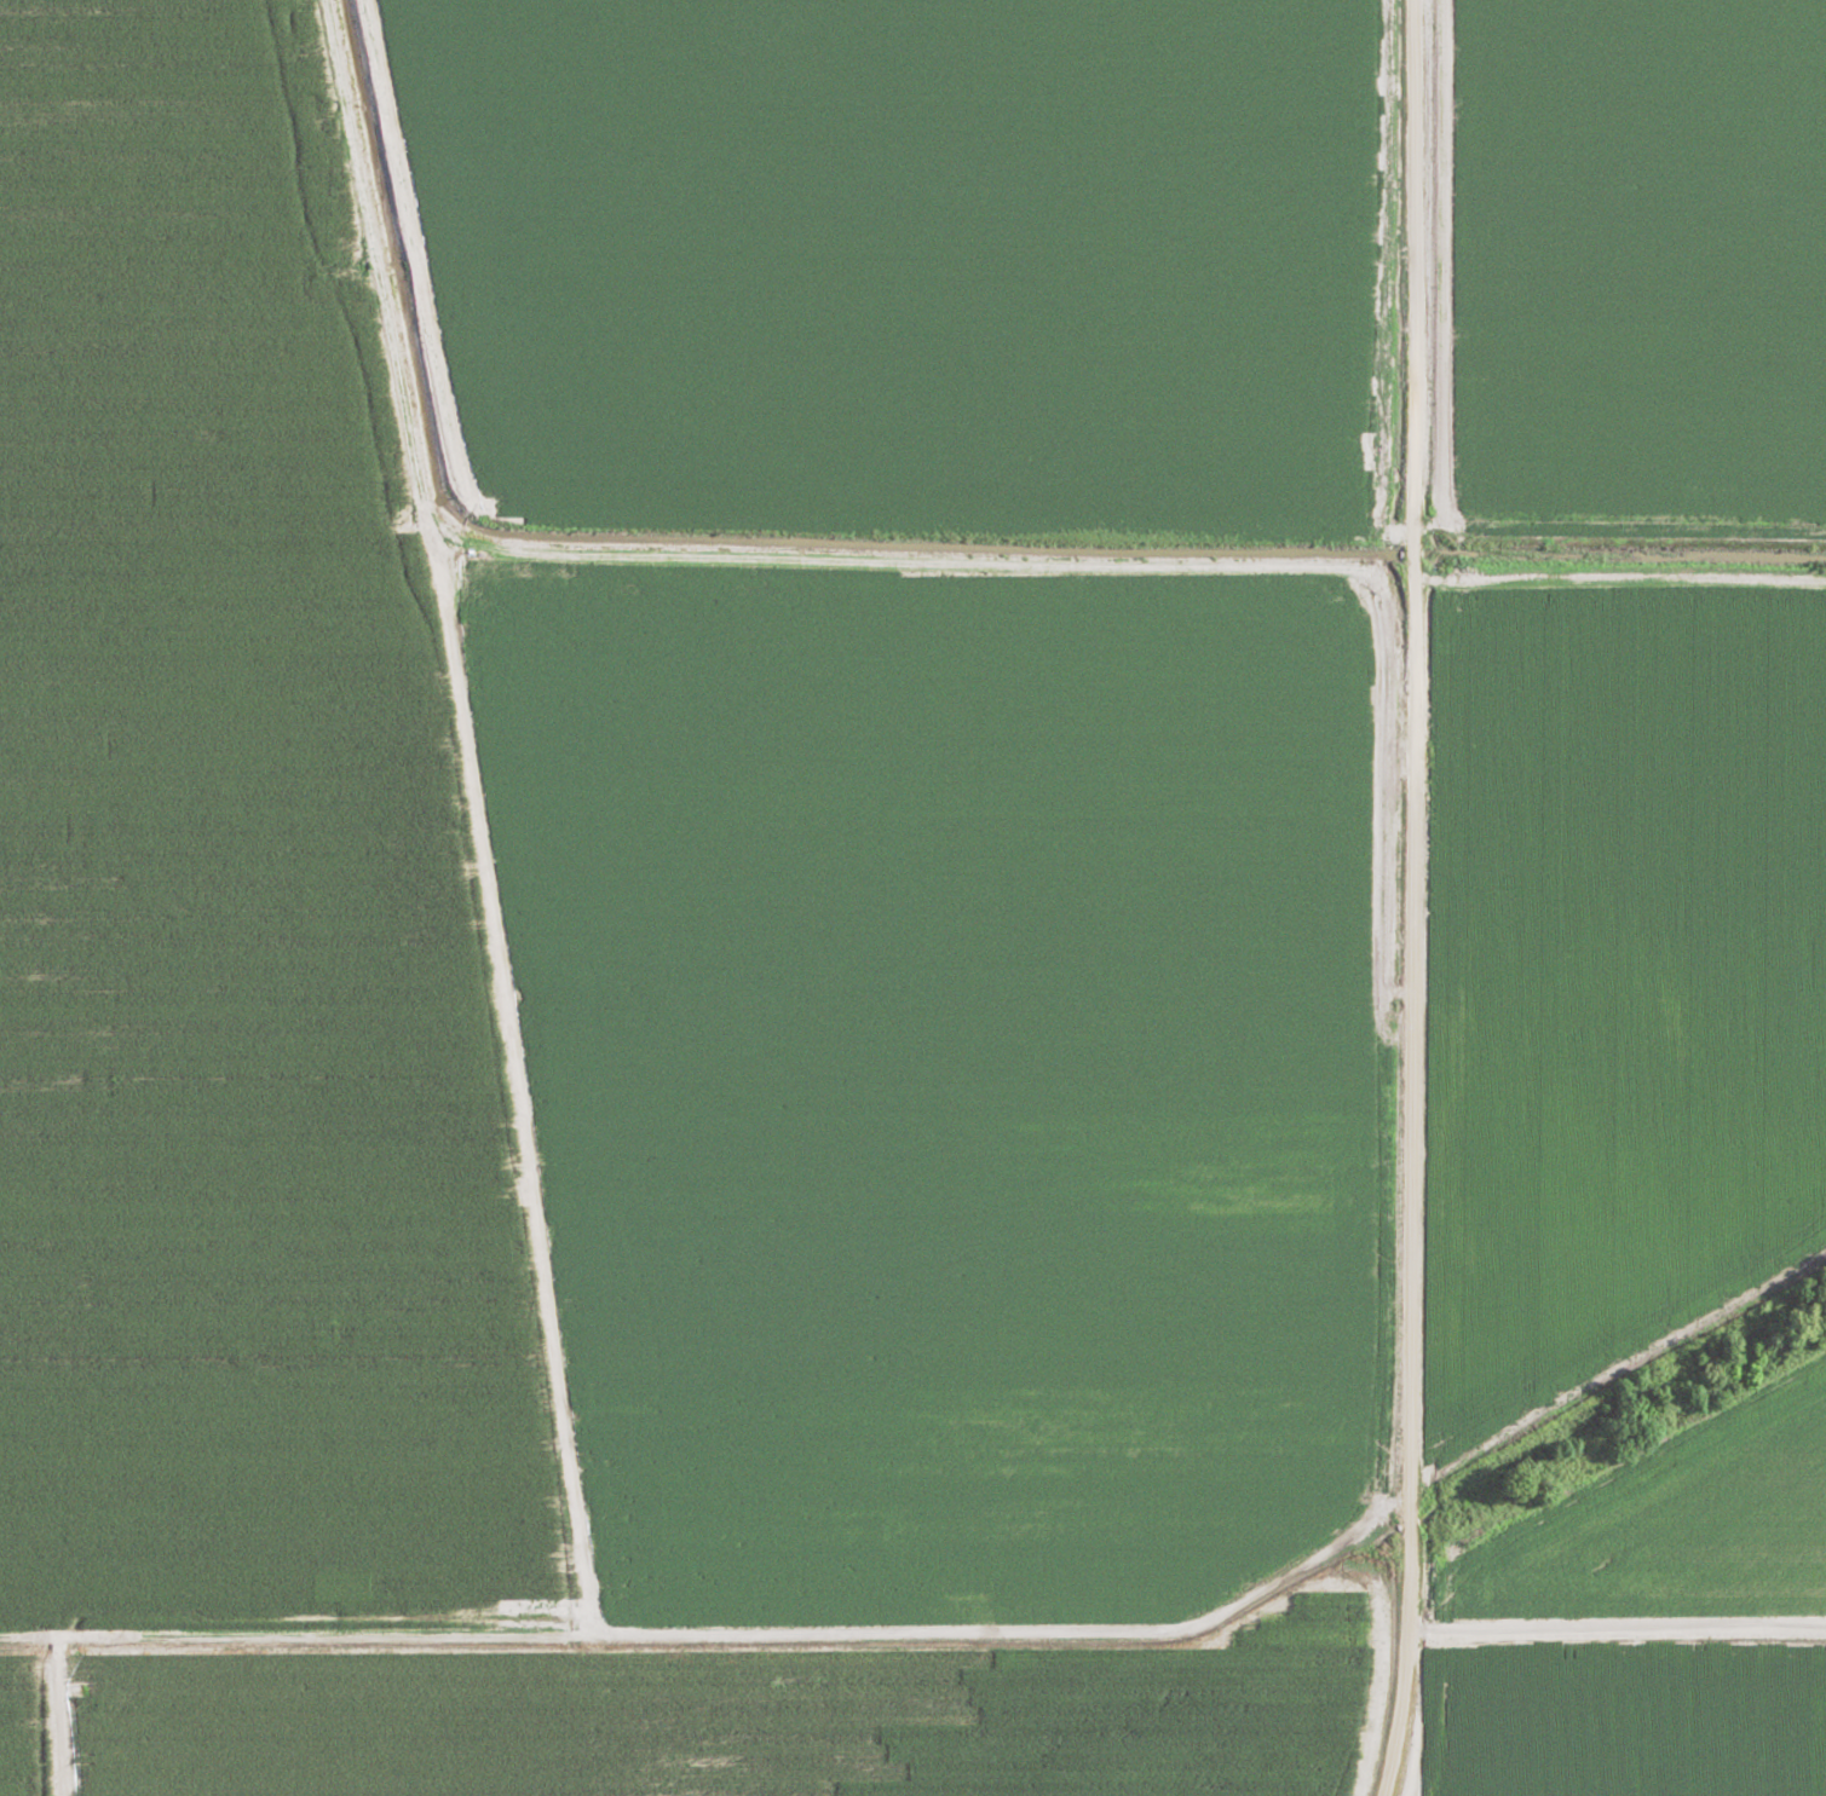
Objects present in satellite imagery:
road: (1401, 900)
road: (735, 1628)
road: (1613, 1628)

